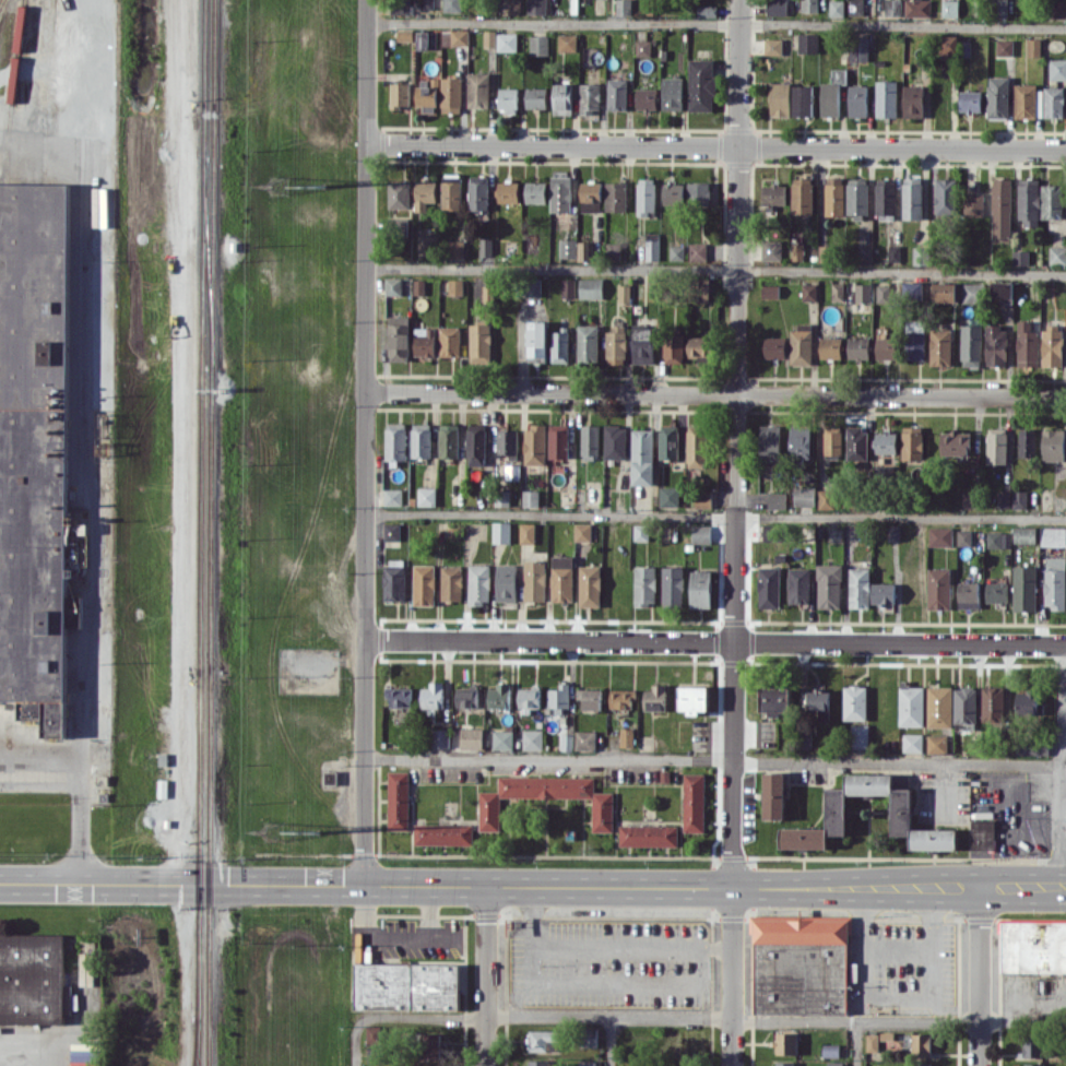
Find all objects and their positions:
railway: (0, 1)
building: (428, 4)
building: (452, 5)
building: (809, 5)
building: (399, 7)
building: (514, 7)
building: (536, 7)
building: (623, 7)
building: (777, 7)
building: (892, 7)
building: (855, 8)
building: (916, 8)
building: (949, 8)
building: (837, 9)
building: (1057, 9)
building: (707, 10)
road: (718, 22)
building: (404, 34)
building: (455, 36)
building: (489, 37)
building: (426, 39)
building: (507, 40)
building: (568, 42)
building: (807, 42)
building: (538, 44)
building: (772, 46)
building: (948, 46)
building: (1033, 46)
building: (642, 47)
building: (1005, 47)
building: (857, 48)
building: (1057, 68)
building: (701, 84)
building: (478, 90)
railway: (12, 91)
building: (673, 93)
building: (832, 93)
building: (400, 94)
building: (451, 94)
building: (617, 94)
building: (427, 96)
building: (997, 96)
building: (536, 97)
building: (590, 97)
building: (508, 98)
building: (562, 98)
building: (647, 98)
building: (780, 98)
building: (886, 98)
building: (803, 99)
building: (1024, 99)
building: (857, 100)
building: (913, 100)
building: (970, 100)
building: (1054, 102)
building: (1039, 103)
road: (716, 143)
power tower: (322, 183)
railway: (213, 185)
power tower: (279, 186)
building: (508, 191)
building: (536, 191)
building: (698, 191)
building: (477, 192)
building: (399, 193)
building: (425, 193)
building: (560, 193)
building: (673, 193)
building: (773, 193)
building: (591, 196)
building: (616, 196)
building: (802, 196)
building: (834, 196)
building: (946, 196)
building: (451, 197)
building: (645, 197)
building: (857, 197)
building: (912, 198)
building: (886, 199)
building: (1052, 201)
building: (1029, 202)
building: (973, 204)
building: (1002, 208)
building: (440, 246)
building: (568, 248)
building: (486, 249)
building: (652, 249)
building: (585, 250)
building: (613, 250)
building: (697, 250)
building: (771, 250)
building: (677, 251)
building: (796, 251)
building: (893, 252)
building: (921, 254)
building: (1057, 254)
building: (1020, 257)
railway: (208, 262)
road: (716, 268)
building: (393, 285)
building: (418, 286)
building: (455, 286)
building: (568, 287)
building: (591, 287)
building: (702, 288)
building: (912, 288)
building: (1002, 288)
building: (770, 291)
building: (808, 291)
building: (838, 291)
building: (862, 292)
building: (944, 292)
building: (972, 292)
building: (487, 293)
building: (624, 293)
building: (884, 293)
building: (399, 337)
building: (537, 340)
building: (424, 341)
building: (449, 341)
building: (479, 343)
building: (588, 343)
building: (616, 343)
building: (801, 344)
building: (971, 344)
building: (1027, 344)
building: (642, 345)
building: (699, 345)
building: (915, 345)
building: (996, 345)
building: (1052, 345)
building: (559, 346)
building: (774, 346)
building: (940, 346)
building: (674, 347)
building: (831, 347)
building: (858, 347)
building: (888, 347)
road: (715, 392)
building: (395, 440)
building: (422, 440)
building: (449, 440)
building: (558, 440)
building: (590, 440)
building: (799, 440)
building: (832, 440)
road: (365, 441)
building: (615, 441)
building: (1027, 441)
road: (183, 442)
building: (508, 442)
building: (886, 442)
building: (911, 442)
building: (955, 442)
building: (534, 443)
building: (668, 443)
road: (737, 443)
building: (770, 443)
building: (857, 443)
building: (996, 445)
building: (1053, 445)
building: (476, 447)
building: (696, 448)
building: (33, 449)
building: (642, 457)
road: (82, 458)
building: (668, 495)
building: (392, 496)
building: (426, 496)
building: (804, 496)
building: (530, 497)
building: (501, 498)
building: (826, 498)
building: (969, 498)
building: (1004, 498)
building: (1019, 498)
building: (703, 499)
building: (777, 499)
railway: (201, 514)
road: (714, 517)
building: (391, 531)
building: (582, 531)
building: (501, 532)
building: (526, 532)
building: (641, 532)
building: (772, 532)
building: (701, 533)
building: (1024, 534)
building: (940, 535)
building: (963, 536)
building: (1053, 536)
building: (998, 540)
building: (561, 578)
building: (534, 580)
building: (394, 582)
building: (452, 582)
building: (507, 582)
building: (1055, 582)
building: (479, 583)
building: (424, 584)
building: (673, 584)
building: (590, 585)
building: (645, 585)
building: (798, 585)
building: (829, 585)
building: (769, 587)
building: (858, 587)
building: (938, 588)
building: (1024, 588)
building: (700, 589)
building: (883, 592)
building: (996, 592)
building: (968, 594)
building: (73, 611)
road: (715, 641)
power substation: (310, 671)
road: (1064, 687)
railway: (212, 690)
building: (433, 695)
building: (399, 696)
building: (466, 696)
building: (499, 696)
building: (560, 697)
building: (654, 697)
building: (590, 698)
building: (623, 698)
building: (694, 698)
building: (529, 699)
building: (815, 699)
building: (774, 700)
building: (854, 702)
building: (1027, 702)
building: (993, 703)
building: (911, 704)
building: (939, 707)
building: (964, 707)
road: (1064, 730)
building: (860, 735)
building: (627, 736)
building: (440, 737)
building: (471, 737)
building: (533, 738)
building: (502, 739)
building: (585, 739)
building: (912, 742)
building: (936, 744)
building: (1032, 746)
road: (712, 759)
road: (1062, 767)
building: (331, 777)
road: (78, 783)
road: (943, 790)
building: (774, 795)
building: (399, 799)
building: (694, 802)
building: (901, 810)
building: (489, 814)
power tower: (318, 829)
power tower: (280, 831)
building: (443, 833)
road: (1064, 833)
building: (648, 834)
building: (983, 834)
road: (530, 885)
road: (1063, 888)
road: (1063, 890)
road: (395, 937)
building: (1033, 945)
road: (632, 947)
road: (898, 948)
road: (485, 950)
road: (980, 955)
building: (801, 966)
road: (734, 976)
building: (33, 979)
building: (406, 985)
road: (584, 986)
road: (898, 998)
road: (431, 1017)
road: (774, 1019)
building: (374, 1033)
road: (355, 1034)
building: (590, 1037)
railway: (211, 1039)
building: (887, 1039)
building: (544, 1040)
road: (485, 1041)
road: (611, 1042)
building: (785, 1042)
road: (855, 1042)
building: (872, 1042)
road: (979, 1043)
building: (921, 1044)
building: (1032, 1044)
building: (430, 1045)
railway: (198, 1049)
railway: (199, 1049)
building: (831, 1050)
road: (27, 1053)
building: (375, 1054)
building: (542, 1063)
building: (588, 1063)
building: (784, 1064)
building: (921, 1064)
building: (1034, 1064)

